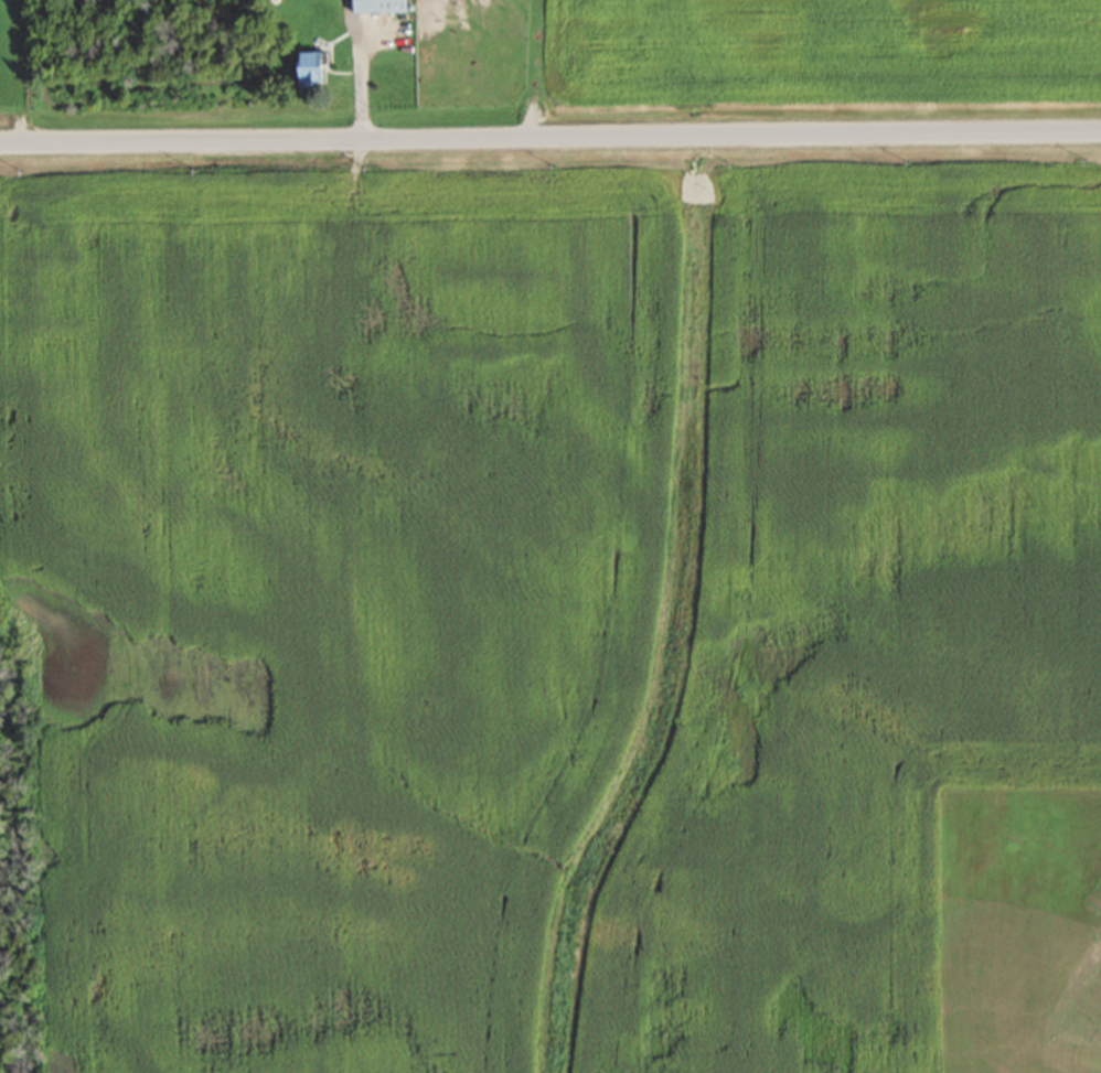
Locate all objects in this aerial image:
building: (304, 65)
road: (550, 138)

